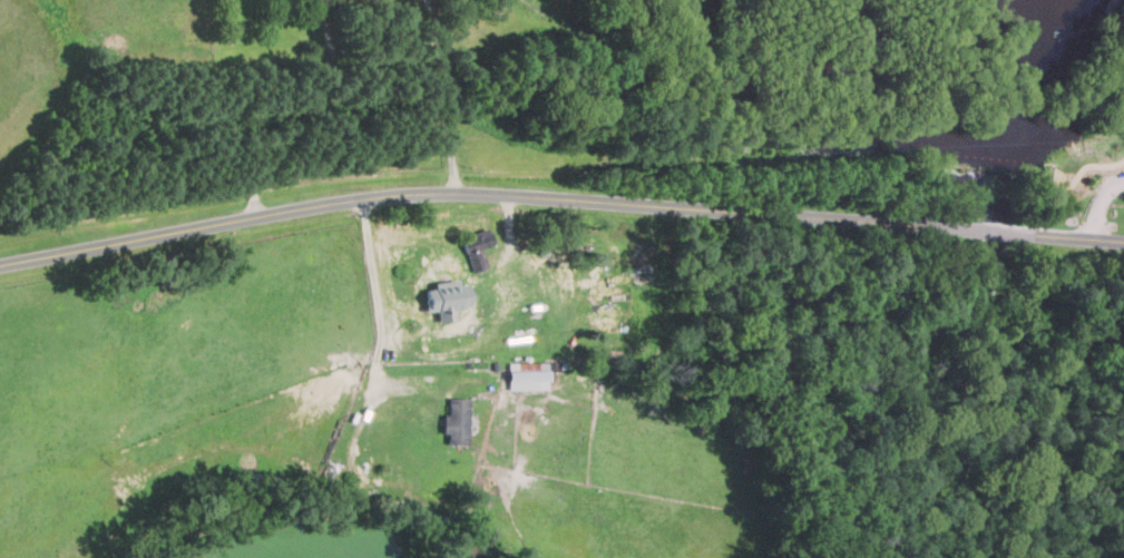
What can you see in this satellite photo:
road: (439, 96)
dam: (884, 165)
park: (1085, 173)
road: (485, 193)
road: (1007, 231)
road: (1081, 237)
building: (476, 248)
road: (372, 275)
building: (526, 379)
building: (456, 420)

